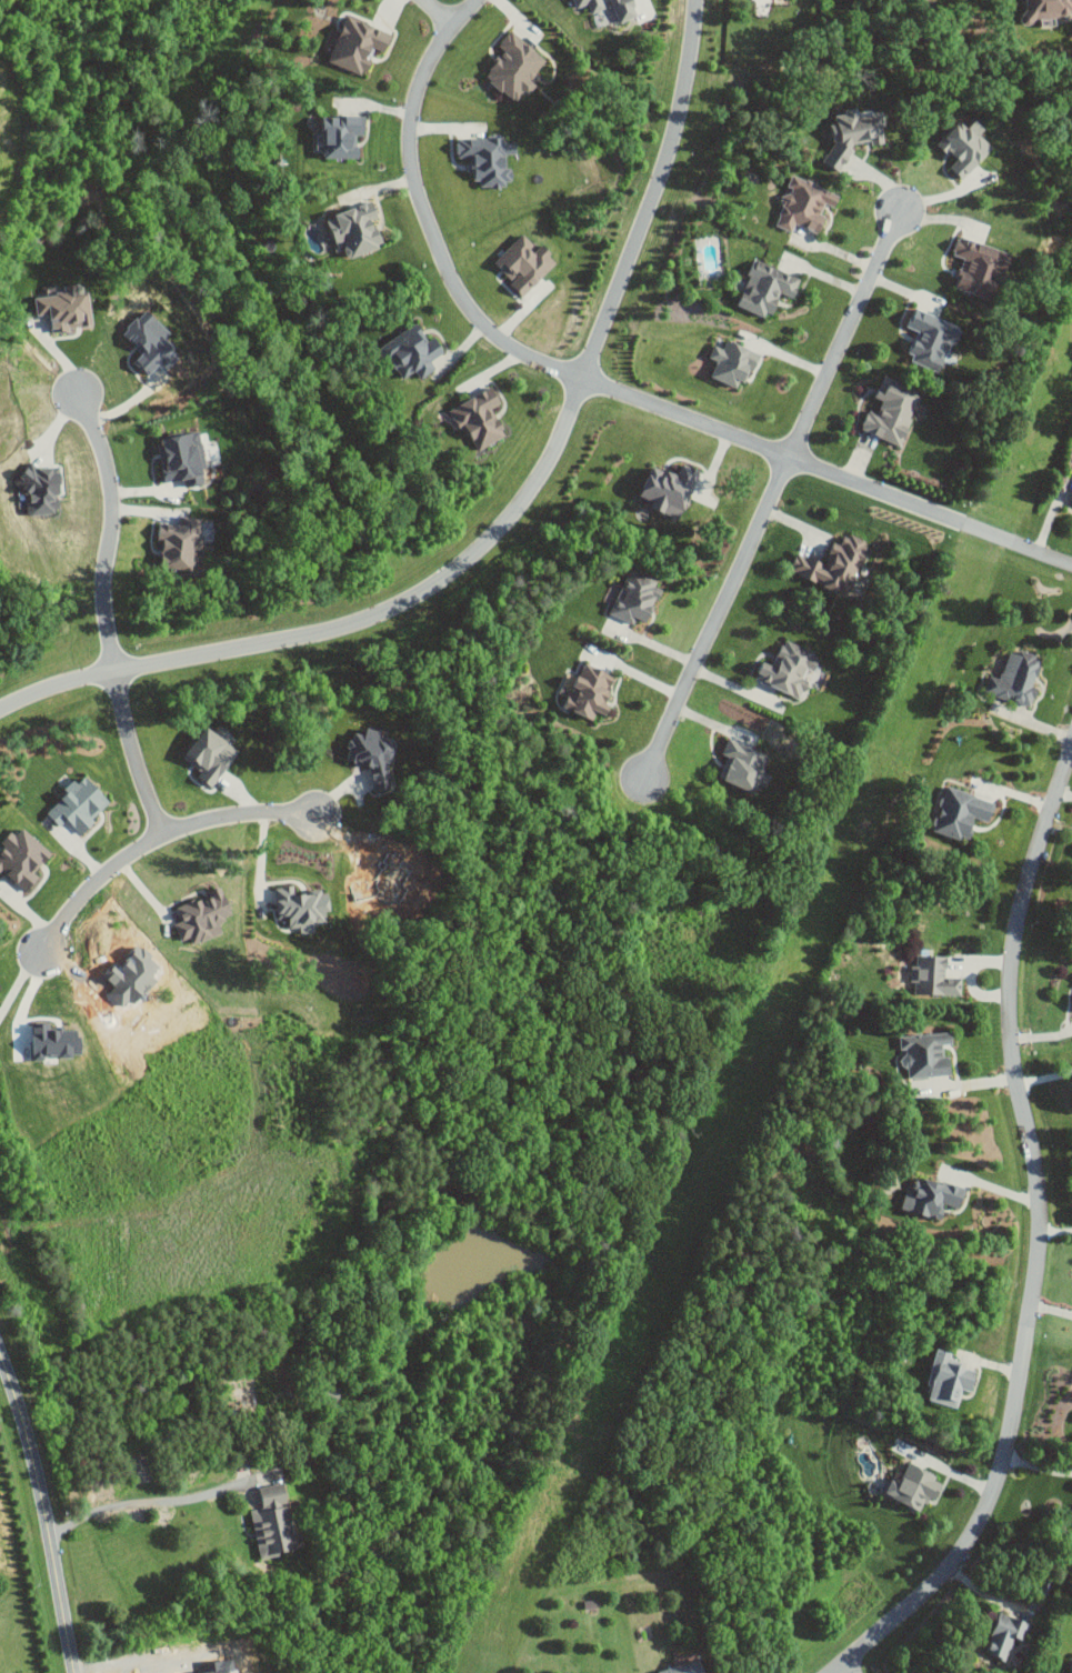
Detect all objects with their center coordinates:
road: (643, 4)
building: (614, 7)
building: (1049, 8)
road: (440, 14)
building: (358, 43)
building: (515, 66)
building: (852, 132)
building: (342, 133)
building: (964, 144)
building: (488, 158)
building: (804, 204)
road: (422, 219)
building: (355, 228)
building: (524, 262)
building: (980, 267)
building: (765, 287)
building: (64, 307)
building: (932, 339)
building: (149, 341)
building: (411, 351)
building: (732, 362)
building: (892, 410)
building: (480, 417)
building: (181, 458)
road: (828, 472)
building: (40, 489)
building: (670, 489)
road: (770, 494)
road: (508, 517)
road: (112, 525)
building: (179, 541)
building: (834, 564)
building: (635, 597)
building: (790, 669)
building: (1016, 678)
building: (590, 691)
road: (133, 752)
building: (372, 753)
building: (210, 755)
building: (743, 764)
building: (78, 804)
building: (962, 812)
road: (153, 836)
building: (21, 859)
building: (301, 908)
building: (202, 915)
building: (933, 976)
road: (19, 979)
building: (925, 1053)
road: (1044, 1076)
road: (963, 1088)
building: (931, 1196)
road: (1039, 1238)
building: (949, 1379)
road: (1036, 1466)
building: (915, 1487)
road: (147, 1501)
road: (43, 1513)
building: (272, 1521)
building: (1005, 1635)
road: (126, 1662)
building: (1071, 1667)
building: (684, 1669)
road: (849, 1669)

